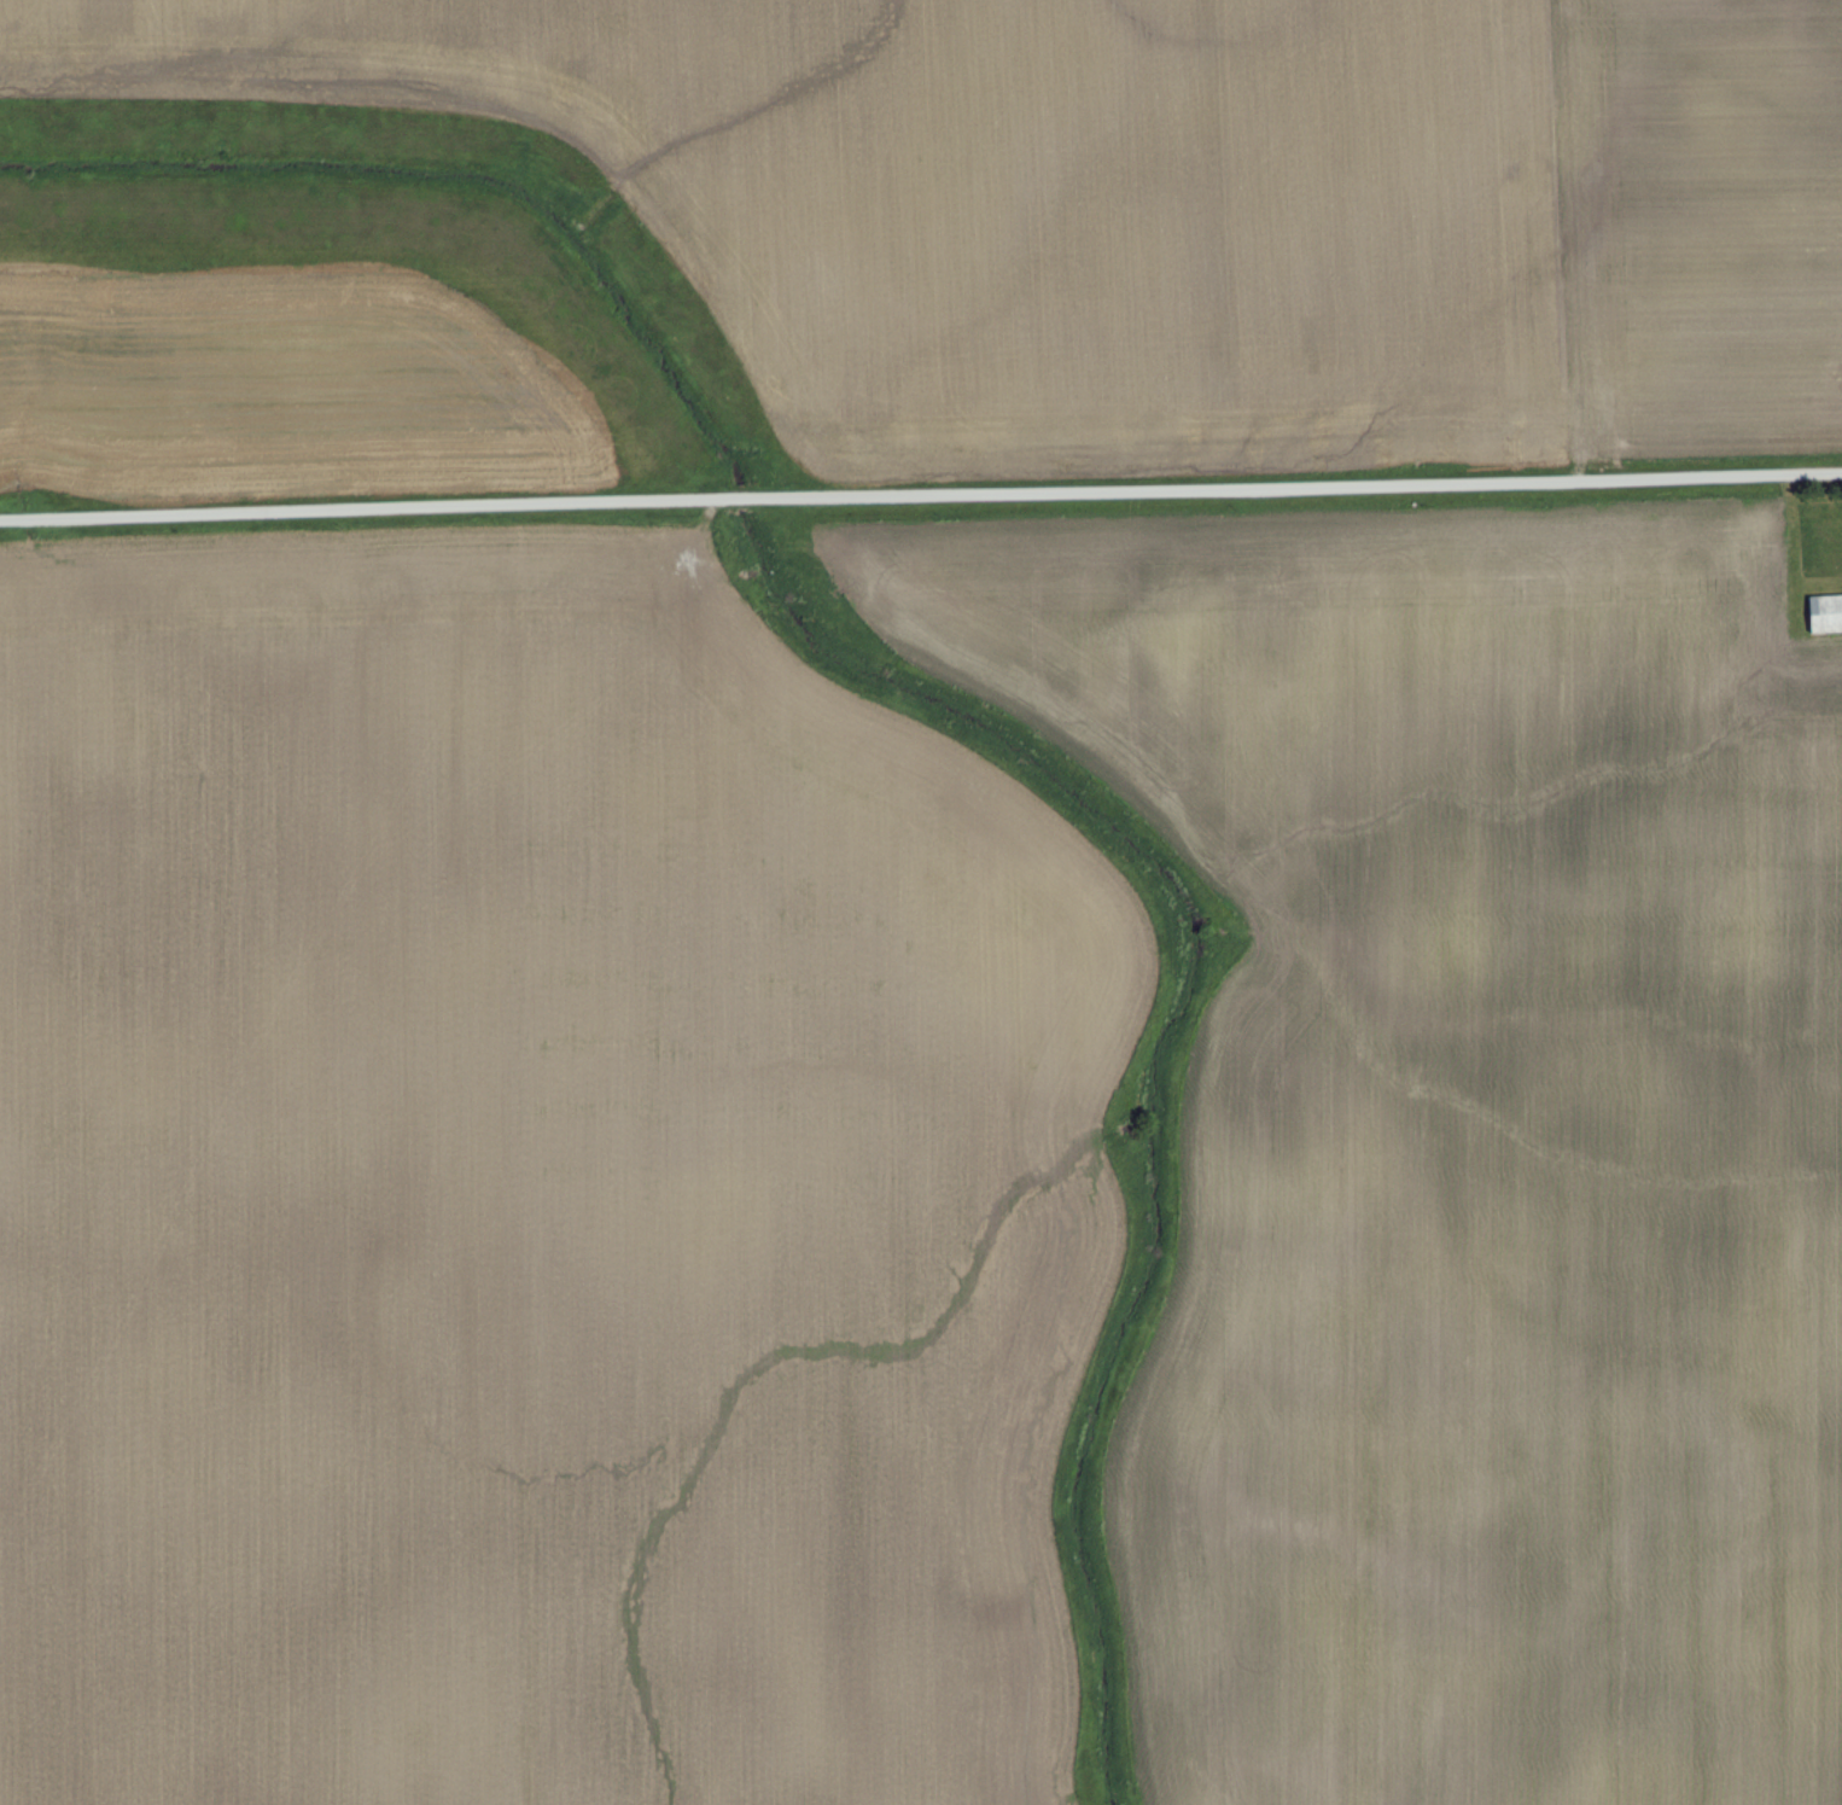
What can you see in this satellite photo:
crop: (1152, 208)
crop: (281, 388)
road: (920, 494)
crop: (1470, 1136)
crop: (529, 1192)

